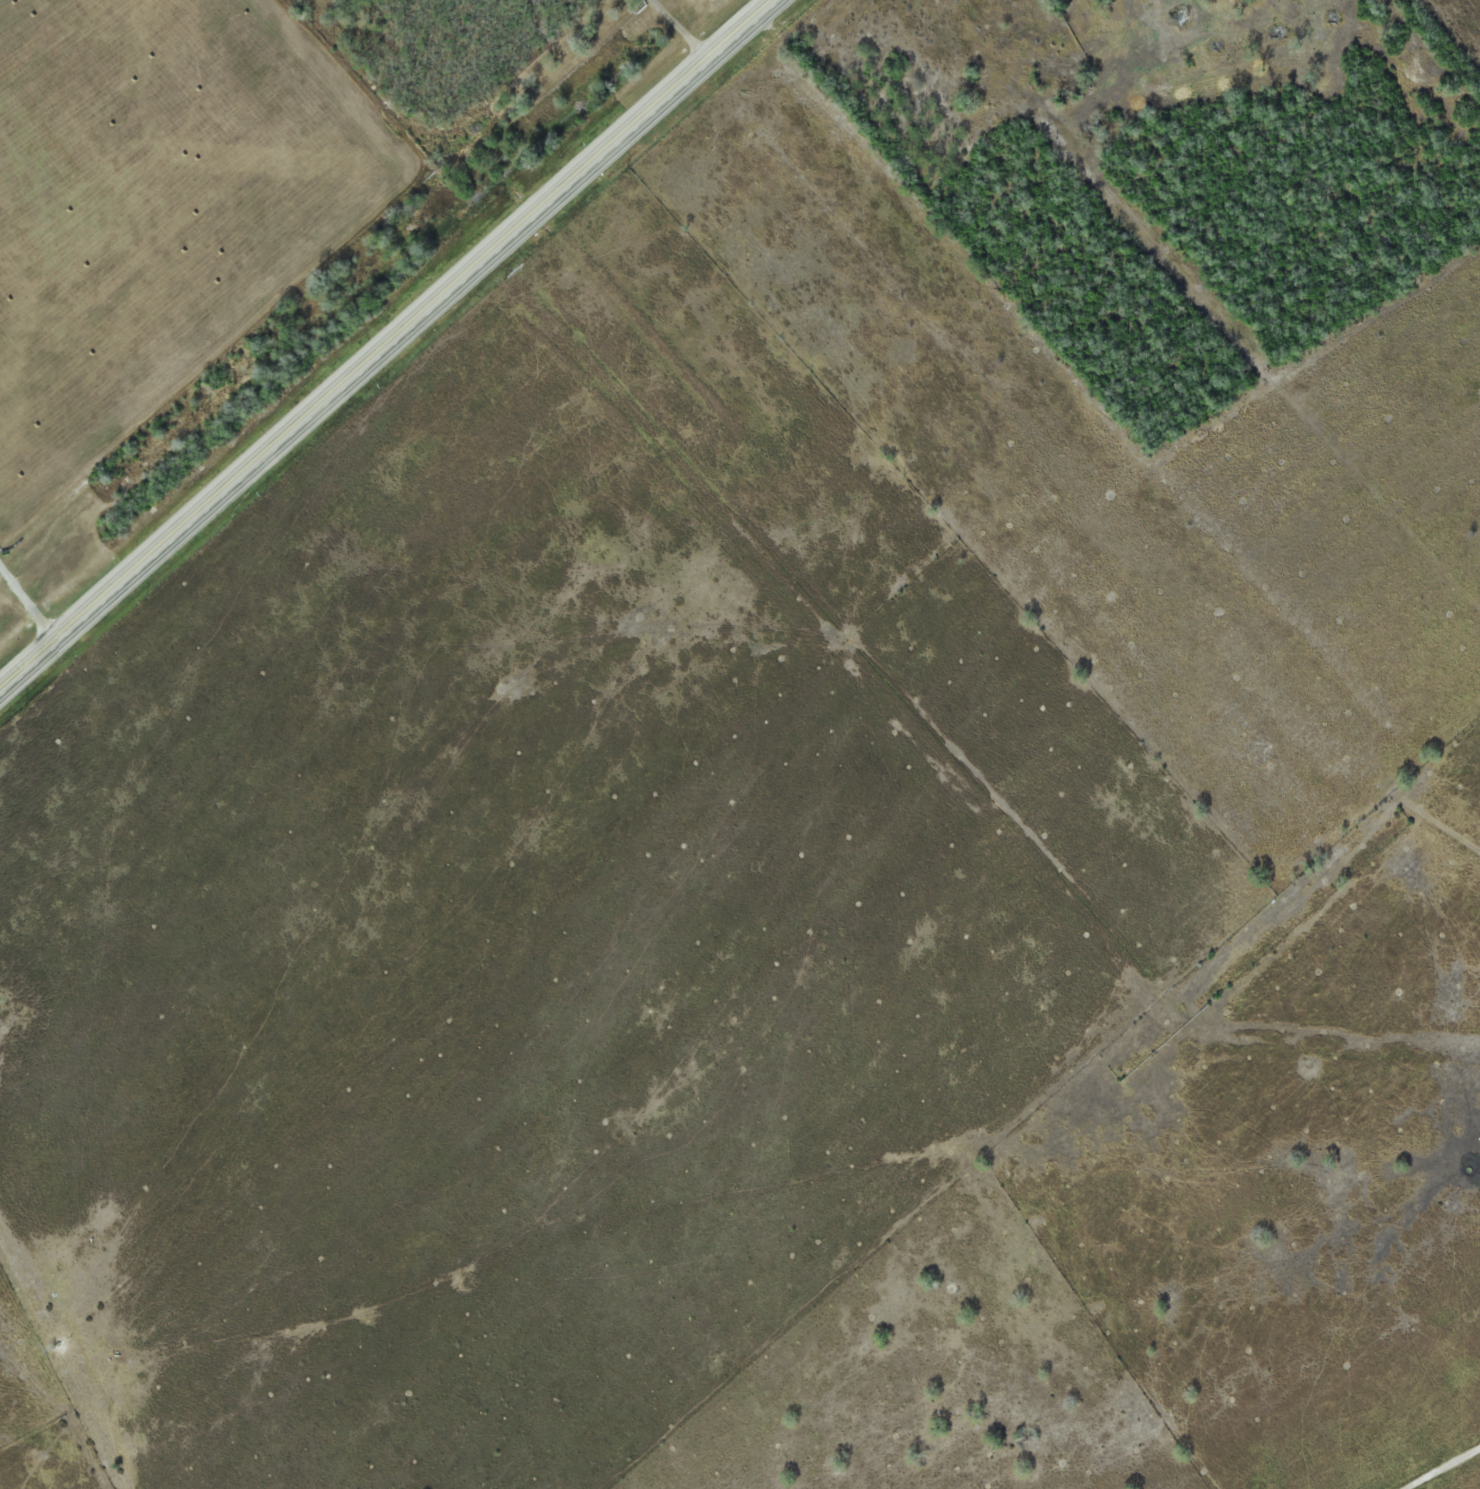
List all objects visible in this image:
building: (1102, 39)
road: (385, 344)
road: (27, 606)
road: (1299, 929)
road: (1441, 1468)

